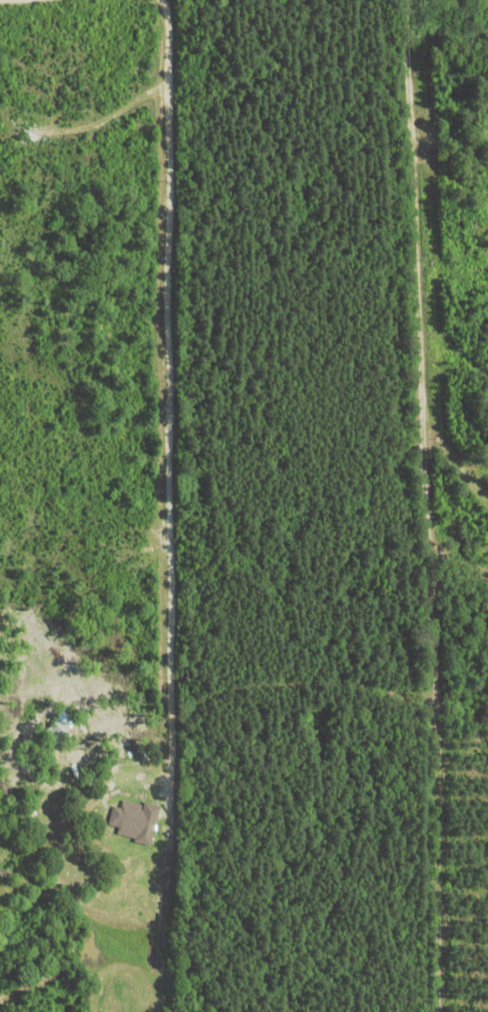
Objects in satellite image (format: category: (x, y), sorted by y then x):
road: (169, 407)
road: (407, 506)
building: (132, 820)

